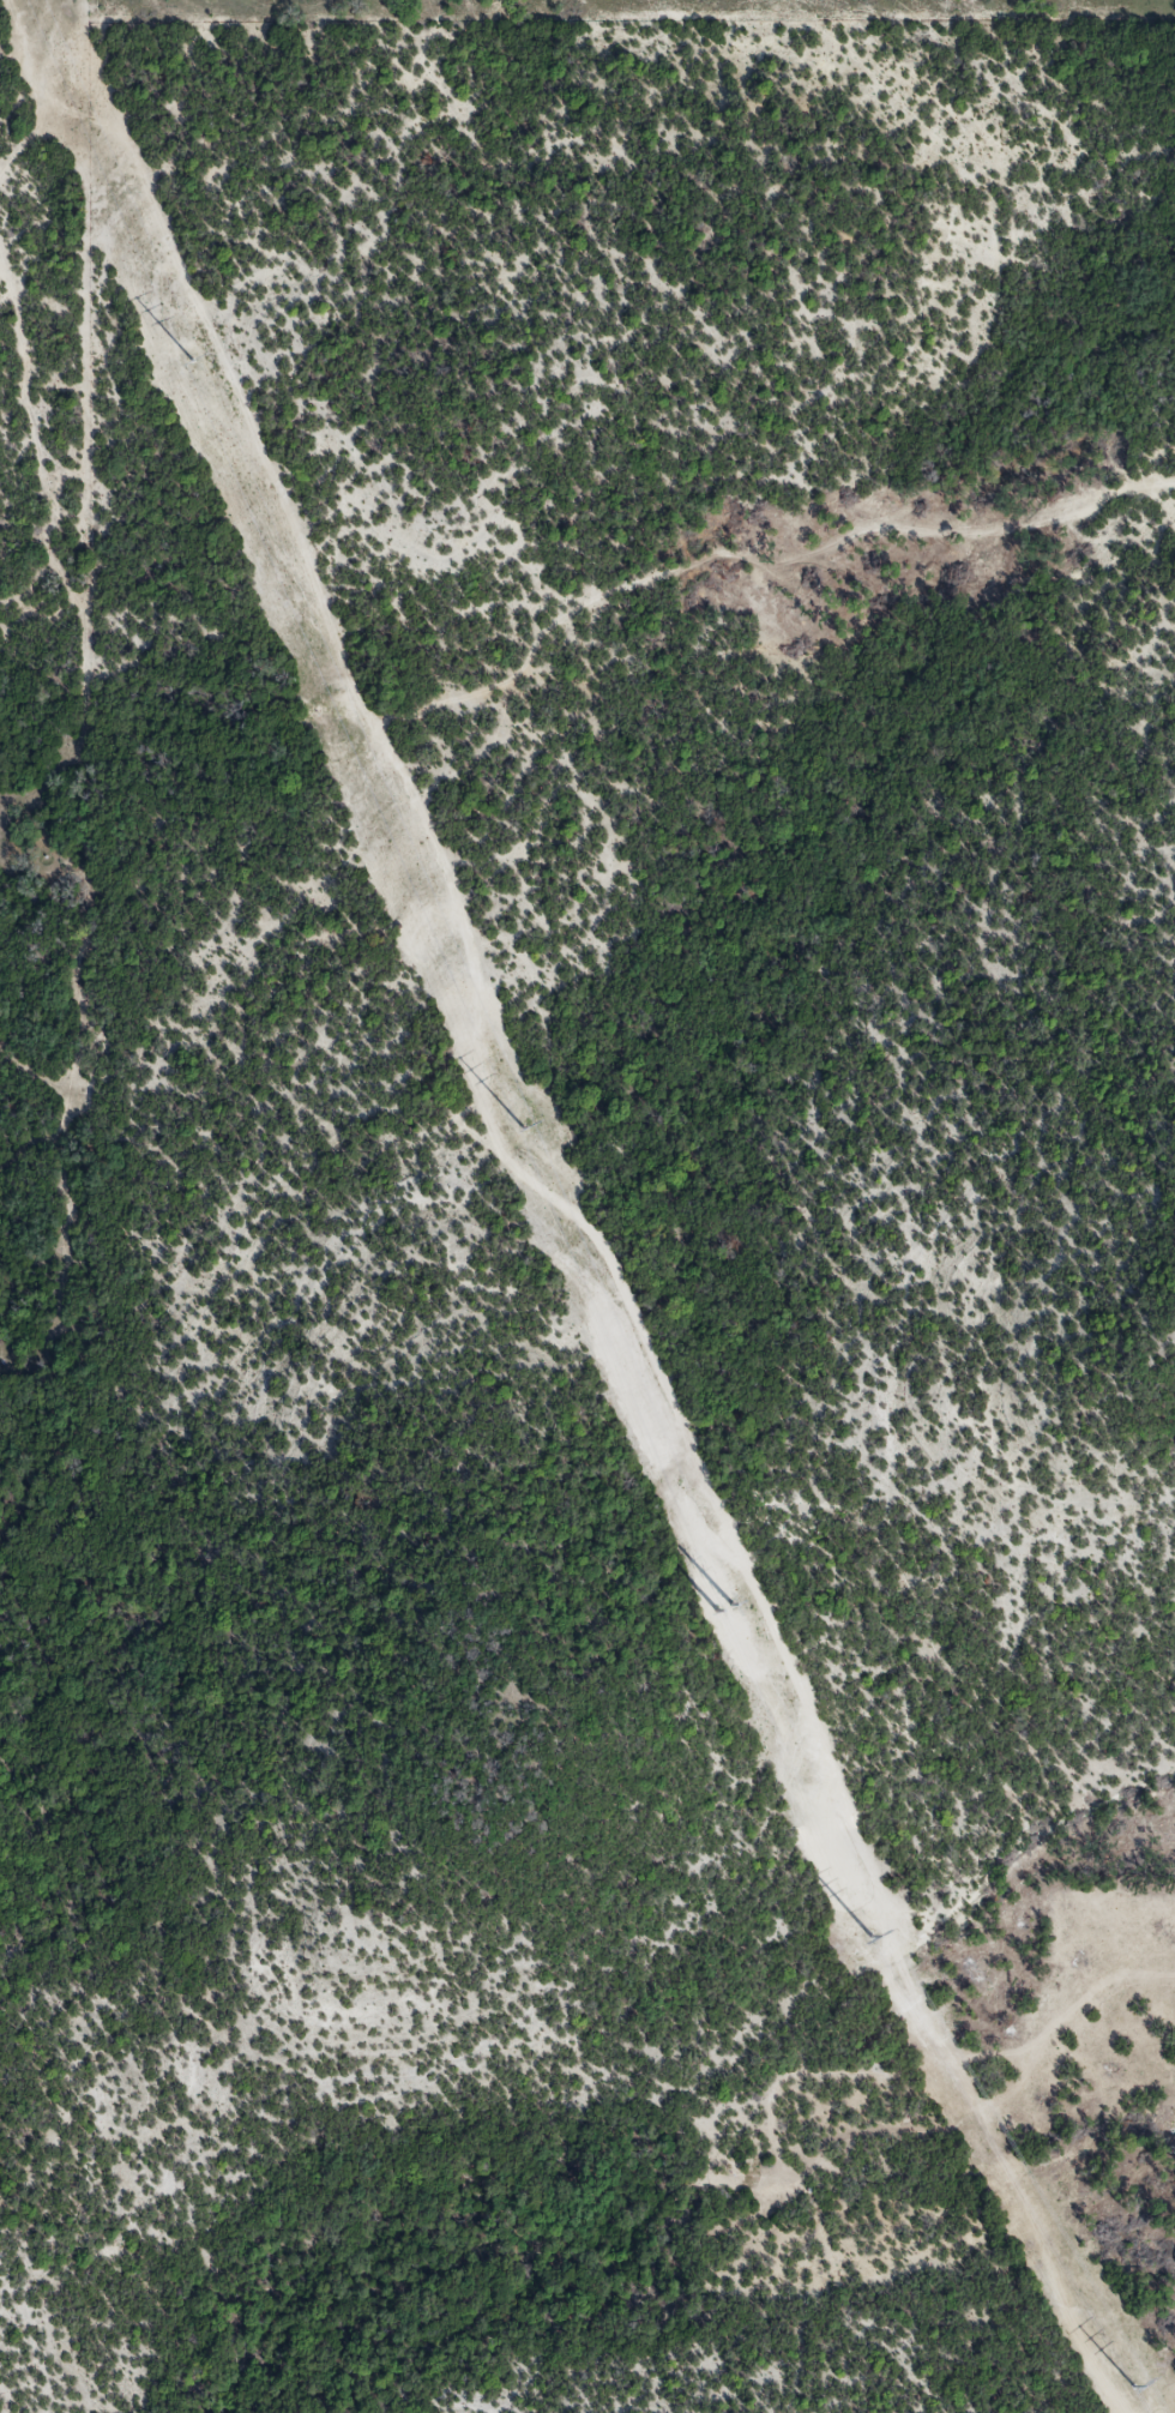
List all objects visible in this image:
power tower: (195, 361)
power tower: (523, 1127)
power tower: (729, 1609)
power tower: (873, 1938)
power tower: (1133, 2388)

